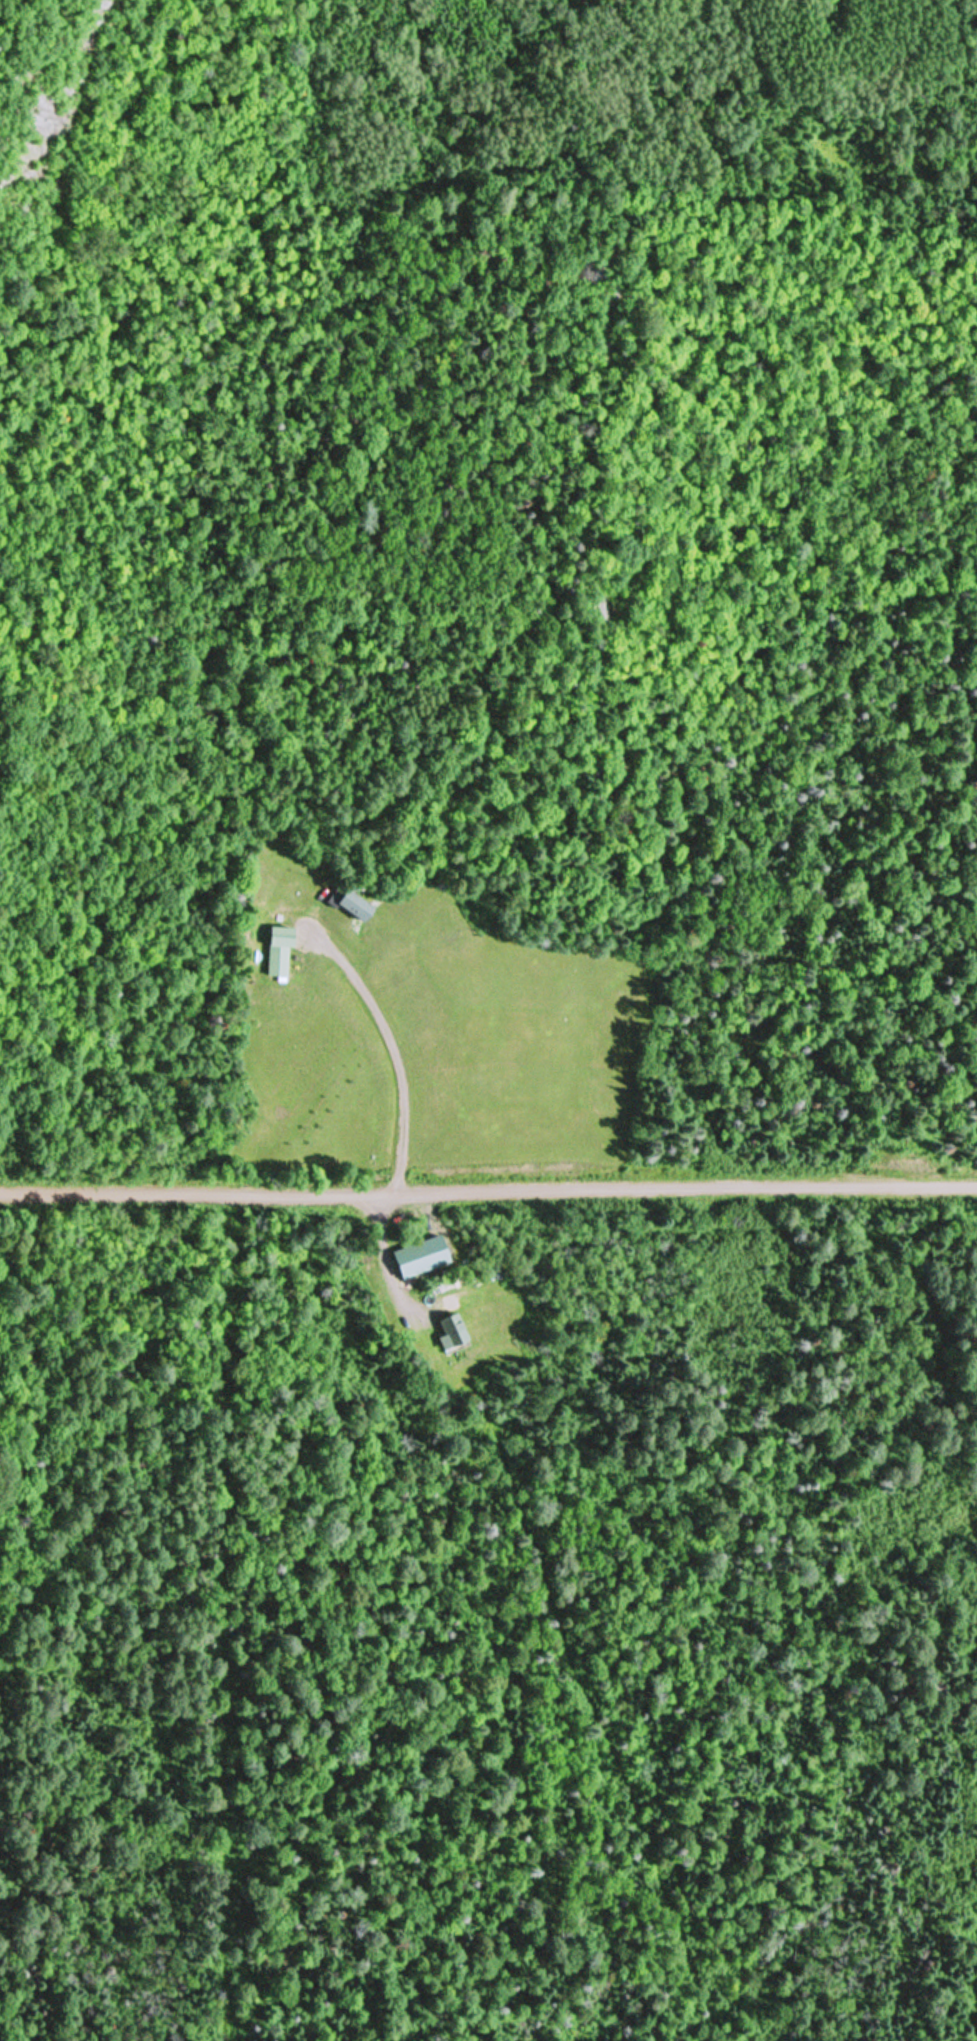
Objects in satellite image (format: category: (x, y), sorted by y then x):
building: (342, 902)
building: (272, 951)
road: (488, 1185)
building: (443, 1329)

